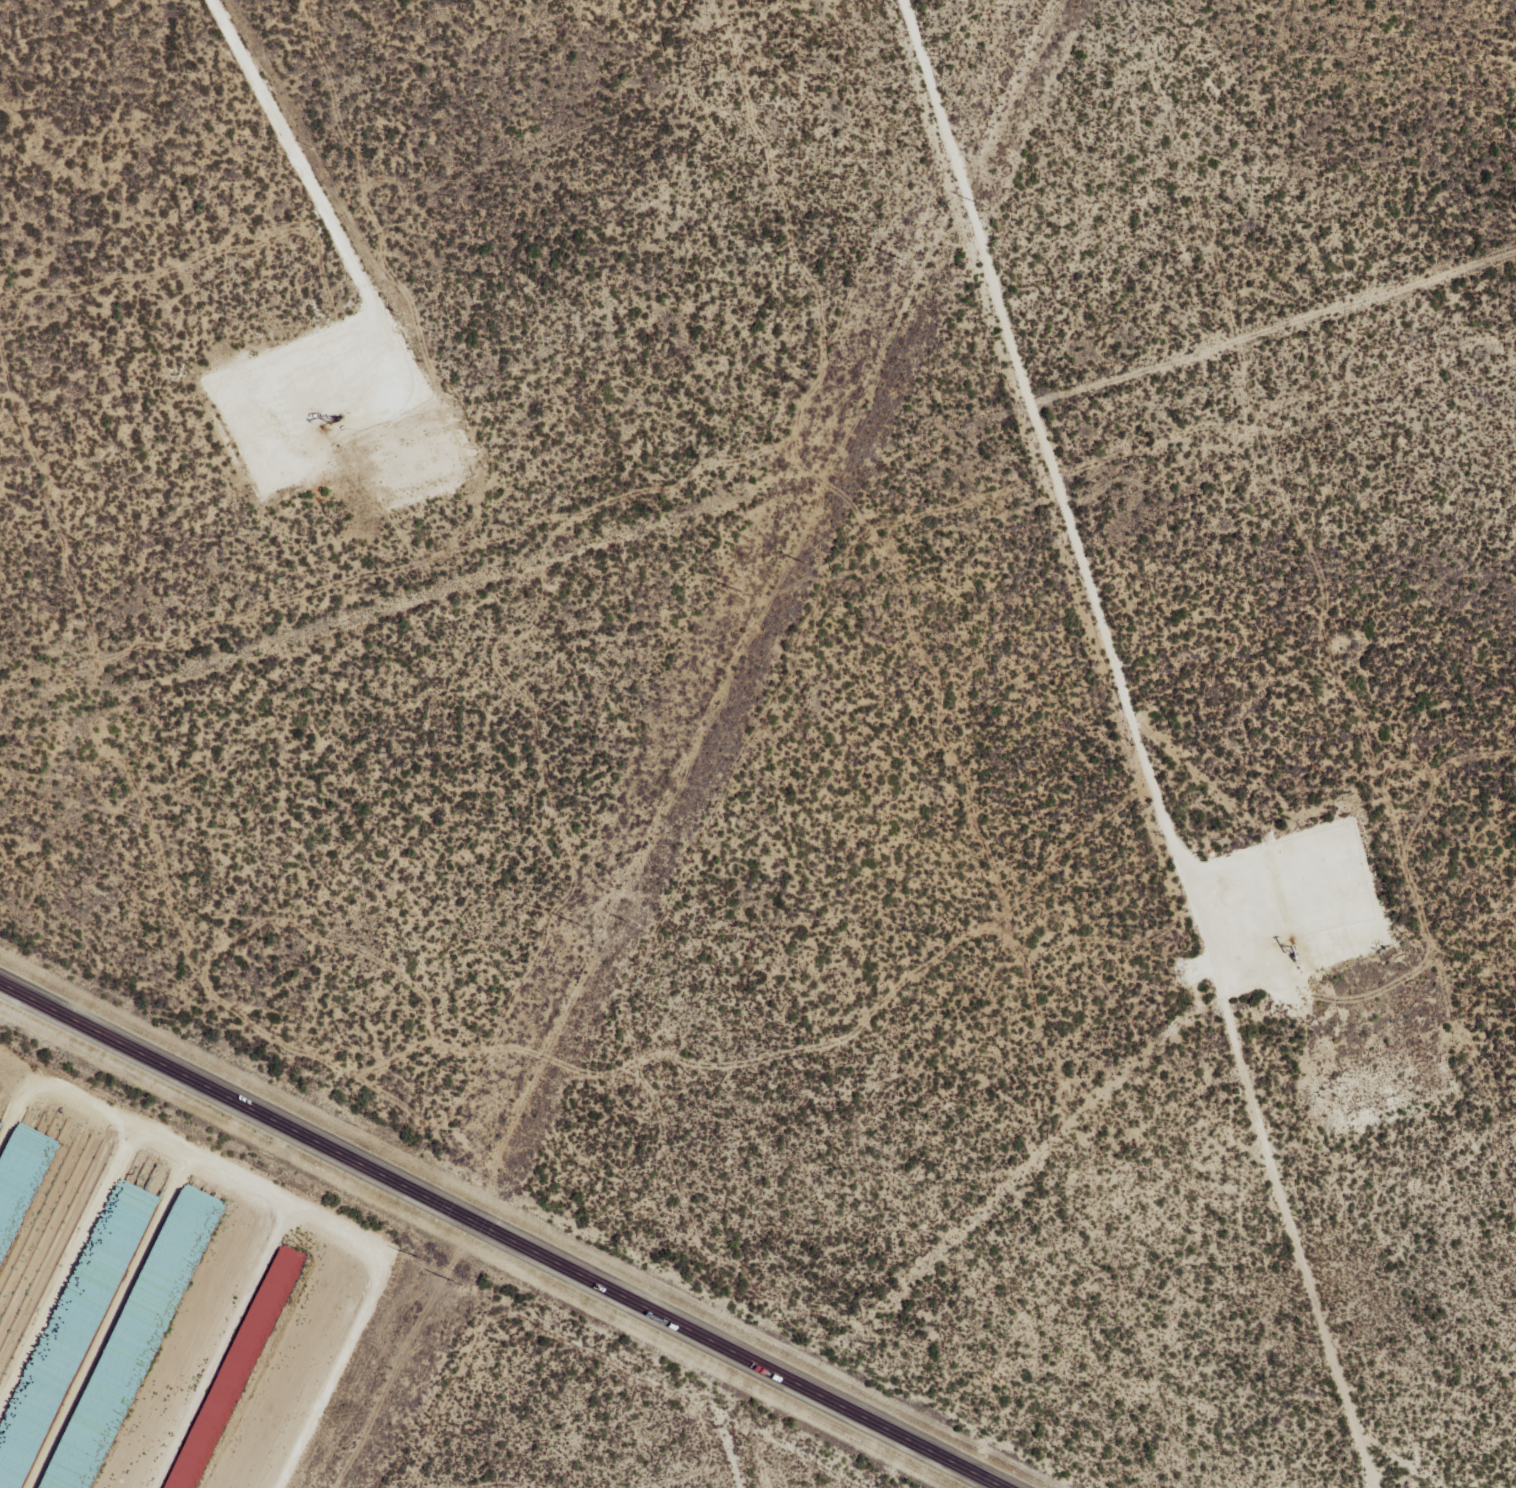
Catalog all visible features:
power tower: (983, 205)
power tower: (905, 260)
power tower: (808, 565)
power tower: (744, 594)
road: (1159, 784)
power tower: (634, 924)
power tower: (582, 927)
road: (496, 1234)
power tower: (420, 1259)
power tower: (458, 1283)
road: (769, 1428)

